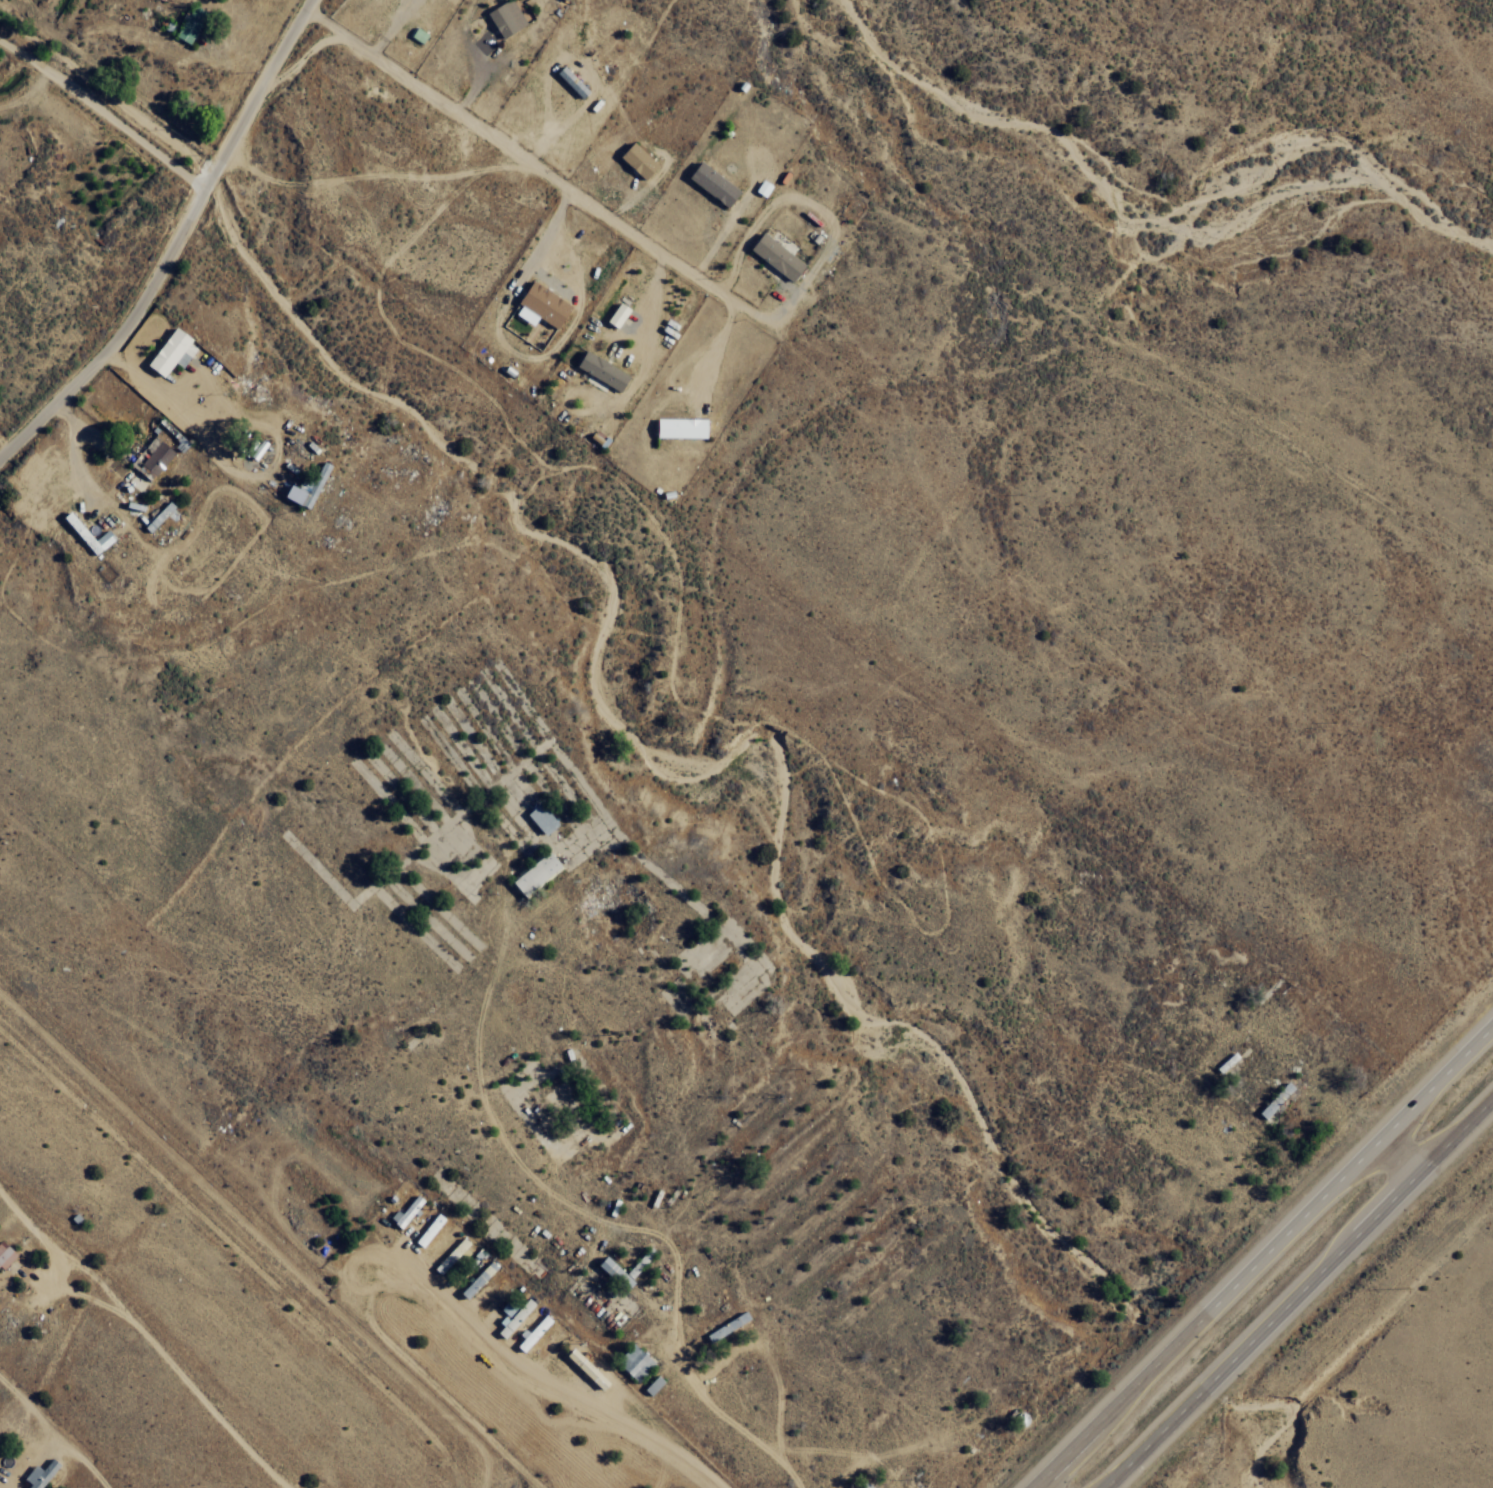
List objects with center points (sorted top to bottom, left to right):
building: (503, 18)
building: (188, 24)
building: (569, 81)
road: (313, 148)
building: (635, 160)
building: (710, 183)
building: (761, 188)
road: (221, 215)
road: (178, 239)
building: (773, 256)
road: (99, 269)
building: (538, 305)
building: (615, 315)
road: (48, 351)
building: (169, 352)
building: (599, 370)
road: (13, 409)
building: (679, 428)
building: (256, 449)
building: (151, 460)
building: (289, 488)
building: (160, 516)
building: (85, 535)
building: (539, 817)
building: (534, 872)
road: (134, 998)
road: (1384, 1060)
building: (1274, 1099)
road: (1400, 1157)
road: (395, 1168)
road: (1104, 1183)
building: (404, 1211)
building: (428, 1230)
building: (4, 1254)
building: (450, 1257)
road: (1265, 1258)
building: (611, 1273)
building: (476, 1280)
road: (1298, 1293)
building: (512, 1315)
building: (727, 1329)
building: (532, 1333)
building: (632, 1362)
building: (584, 1368)
road: (1033, 1381)
building: (651, 1385)
building: (1019, 1419)
storage tank: (1019, 1419)
road: (410, 1434)
building: (39, 1474)
building: (864, 1485)

